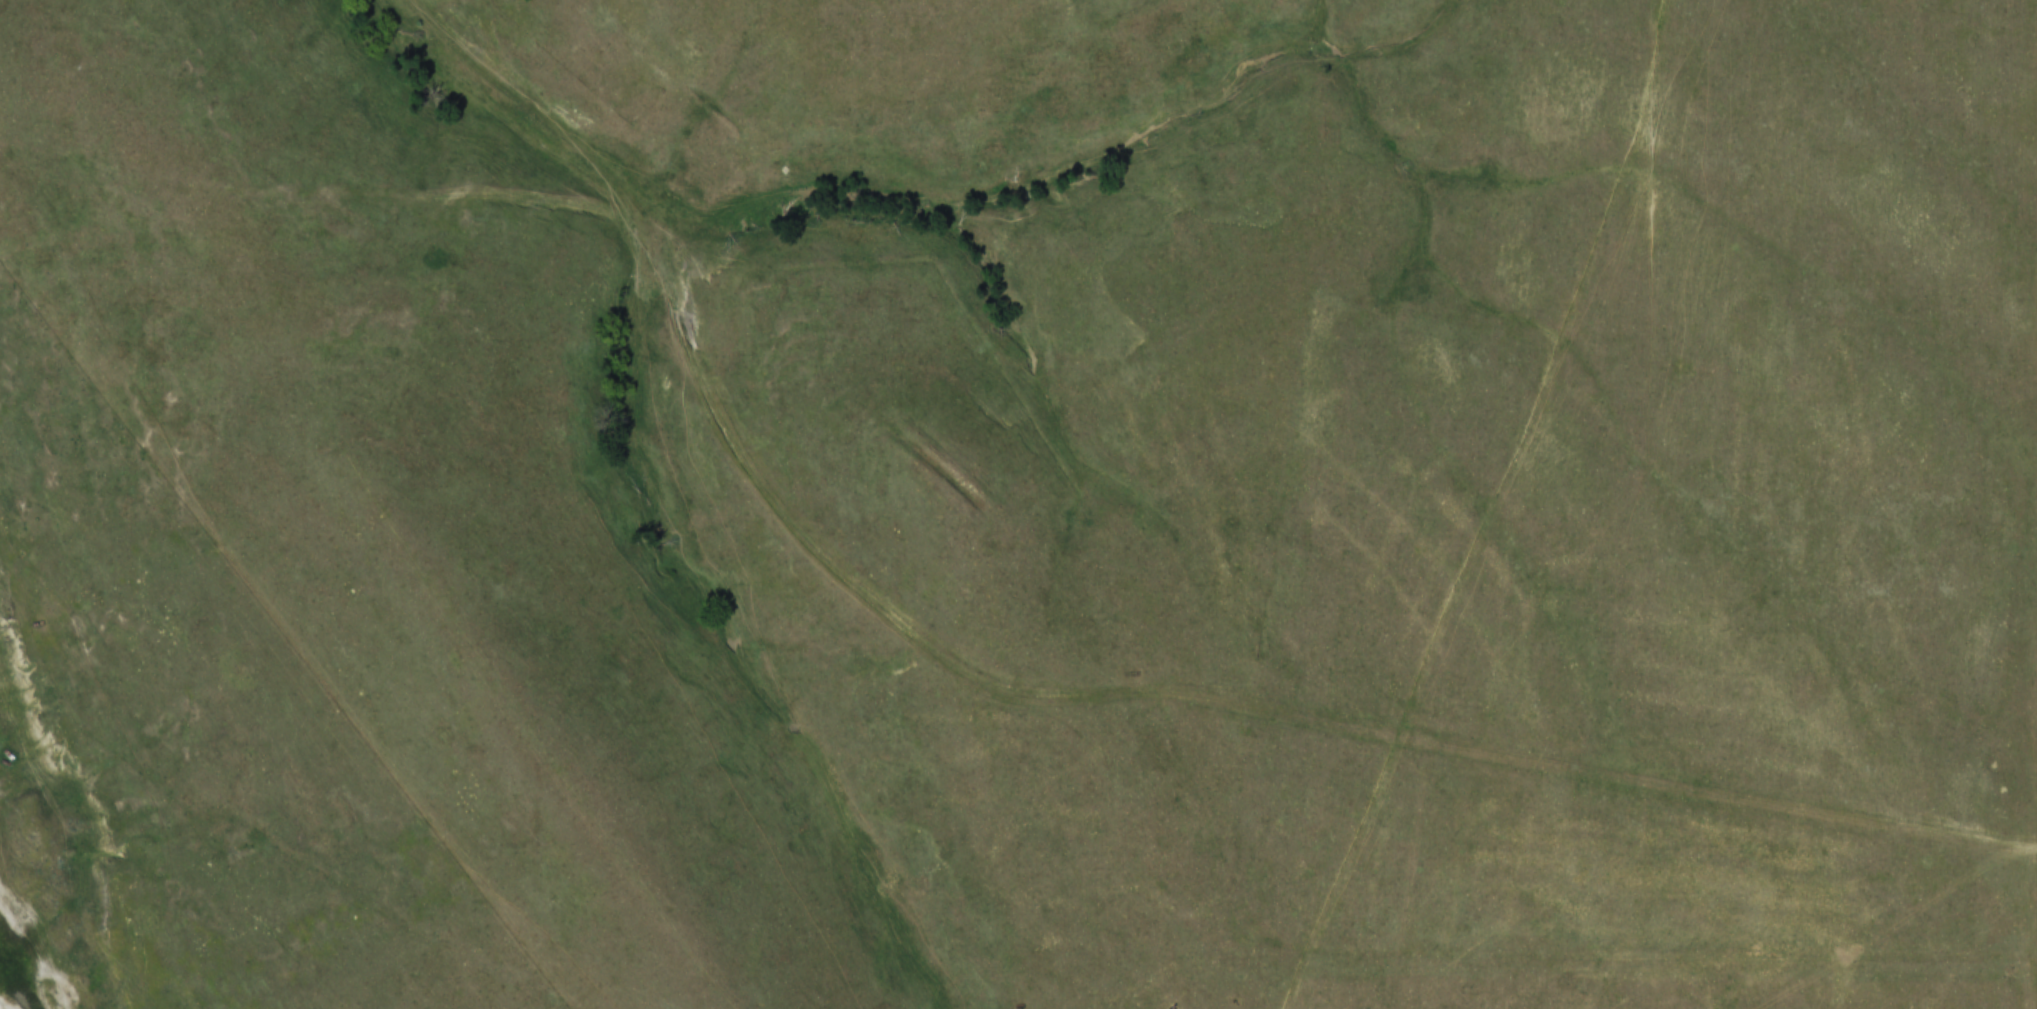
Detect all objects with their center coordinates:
road: (1065, 697)

